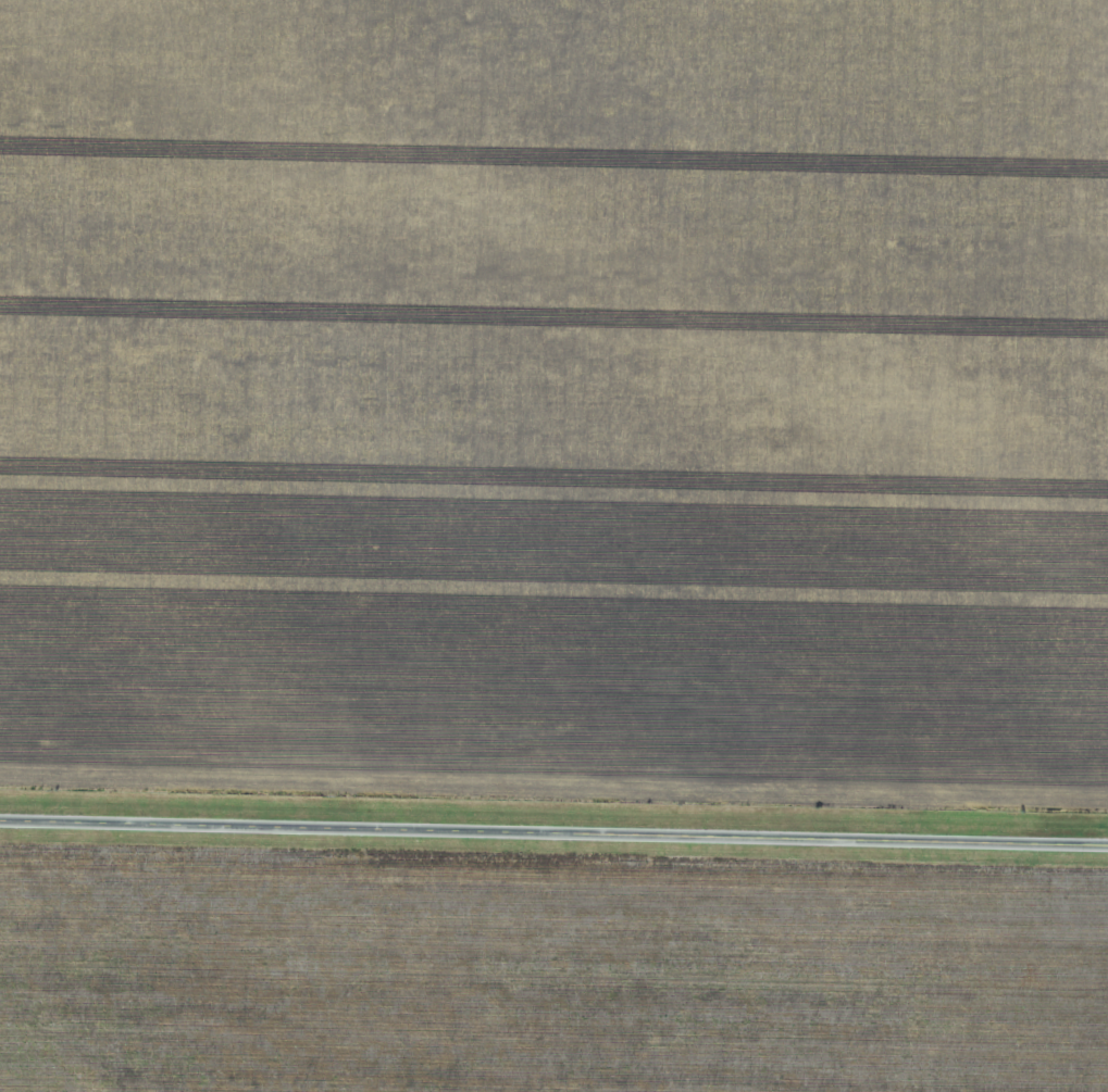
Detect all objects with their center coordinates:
road: (553, 831)

